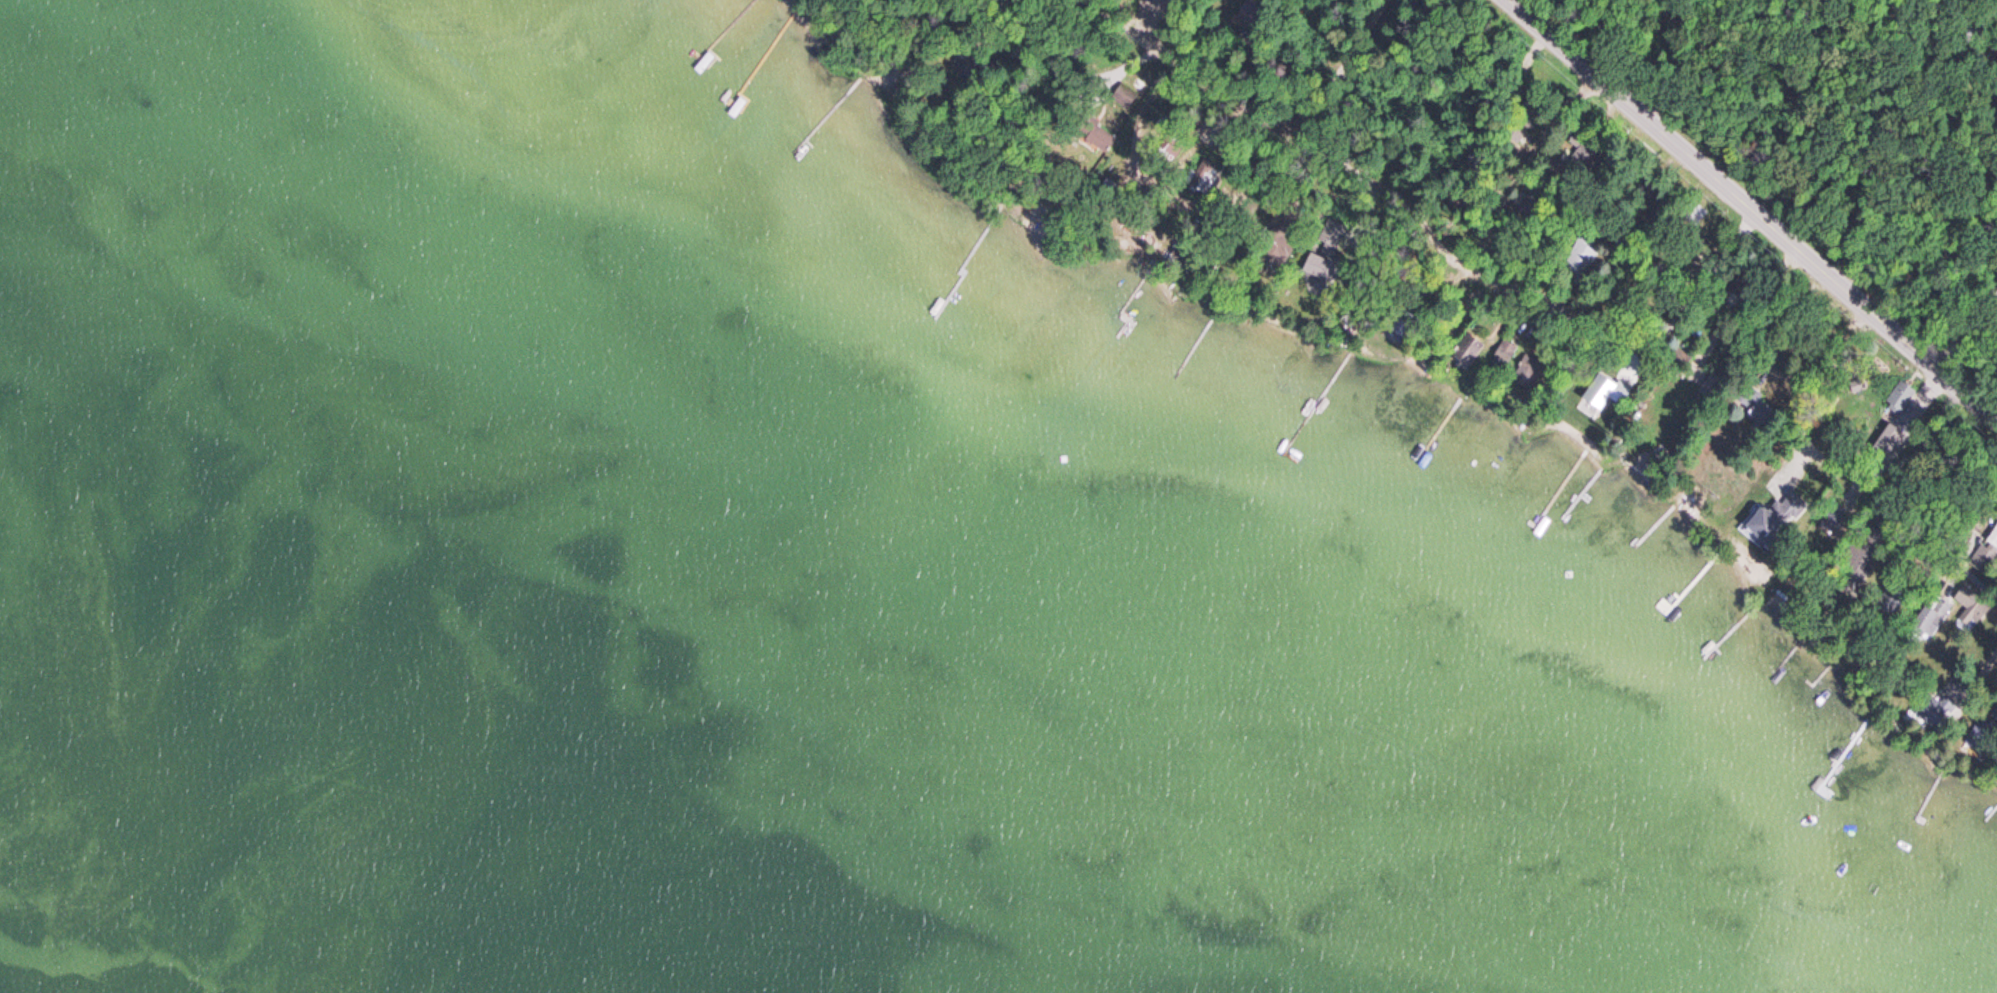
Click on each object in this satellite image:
road: (1505, 0)
road: (1537, 10)
road: (1606, 30)
road: (1714, 61)
road: (1531, 63)
road: (1330, 65)
road: (1190, 66)
road: (1339, 164)
road: (1929, 177)
road: (1748, 209)
road: (1434, 242)
road: (1697, 278)
road: (1567, 304)
road: (1973, 531)
building: (1993, 538)

